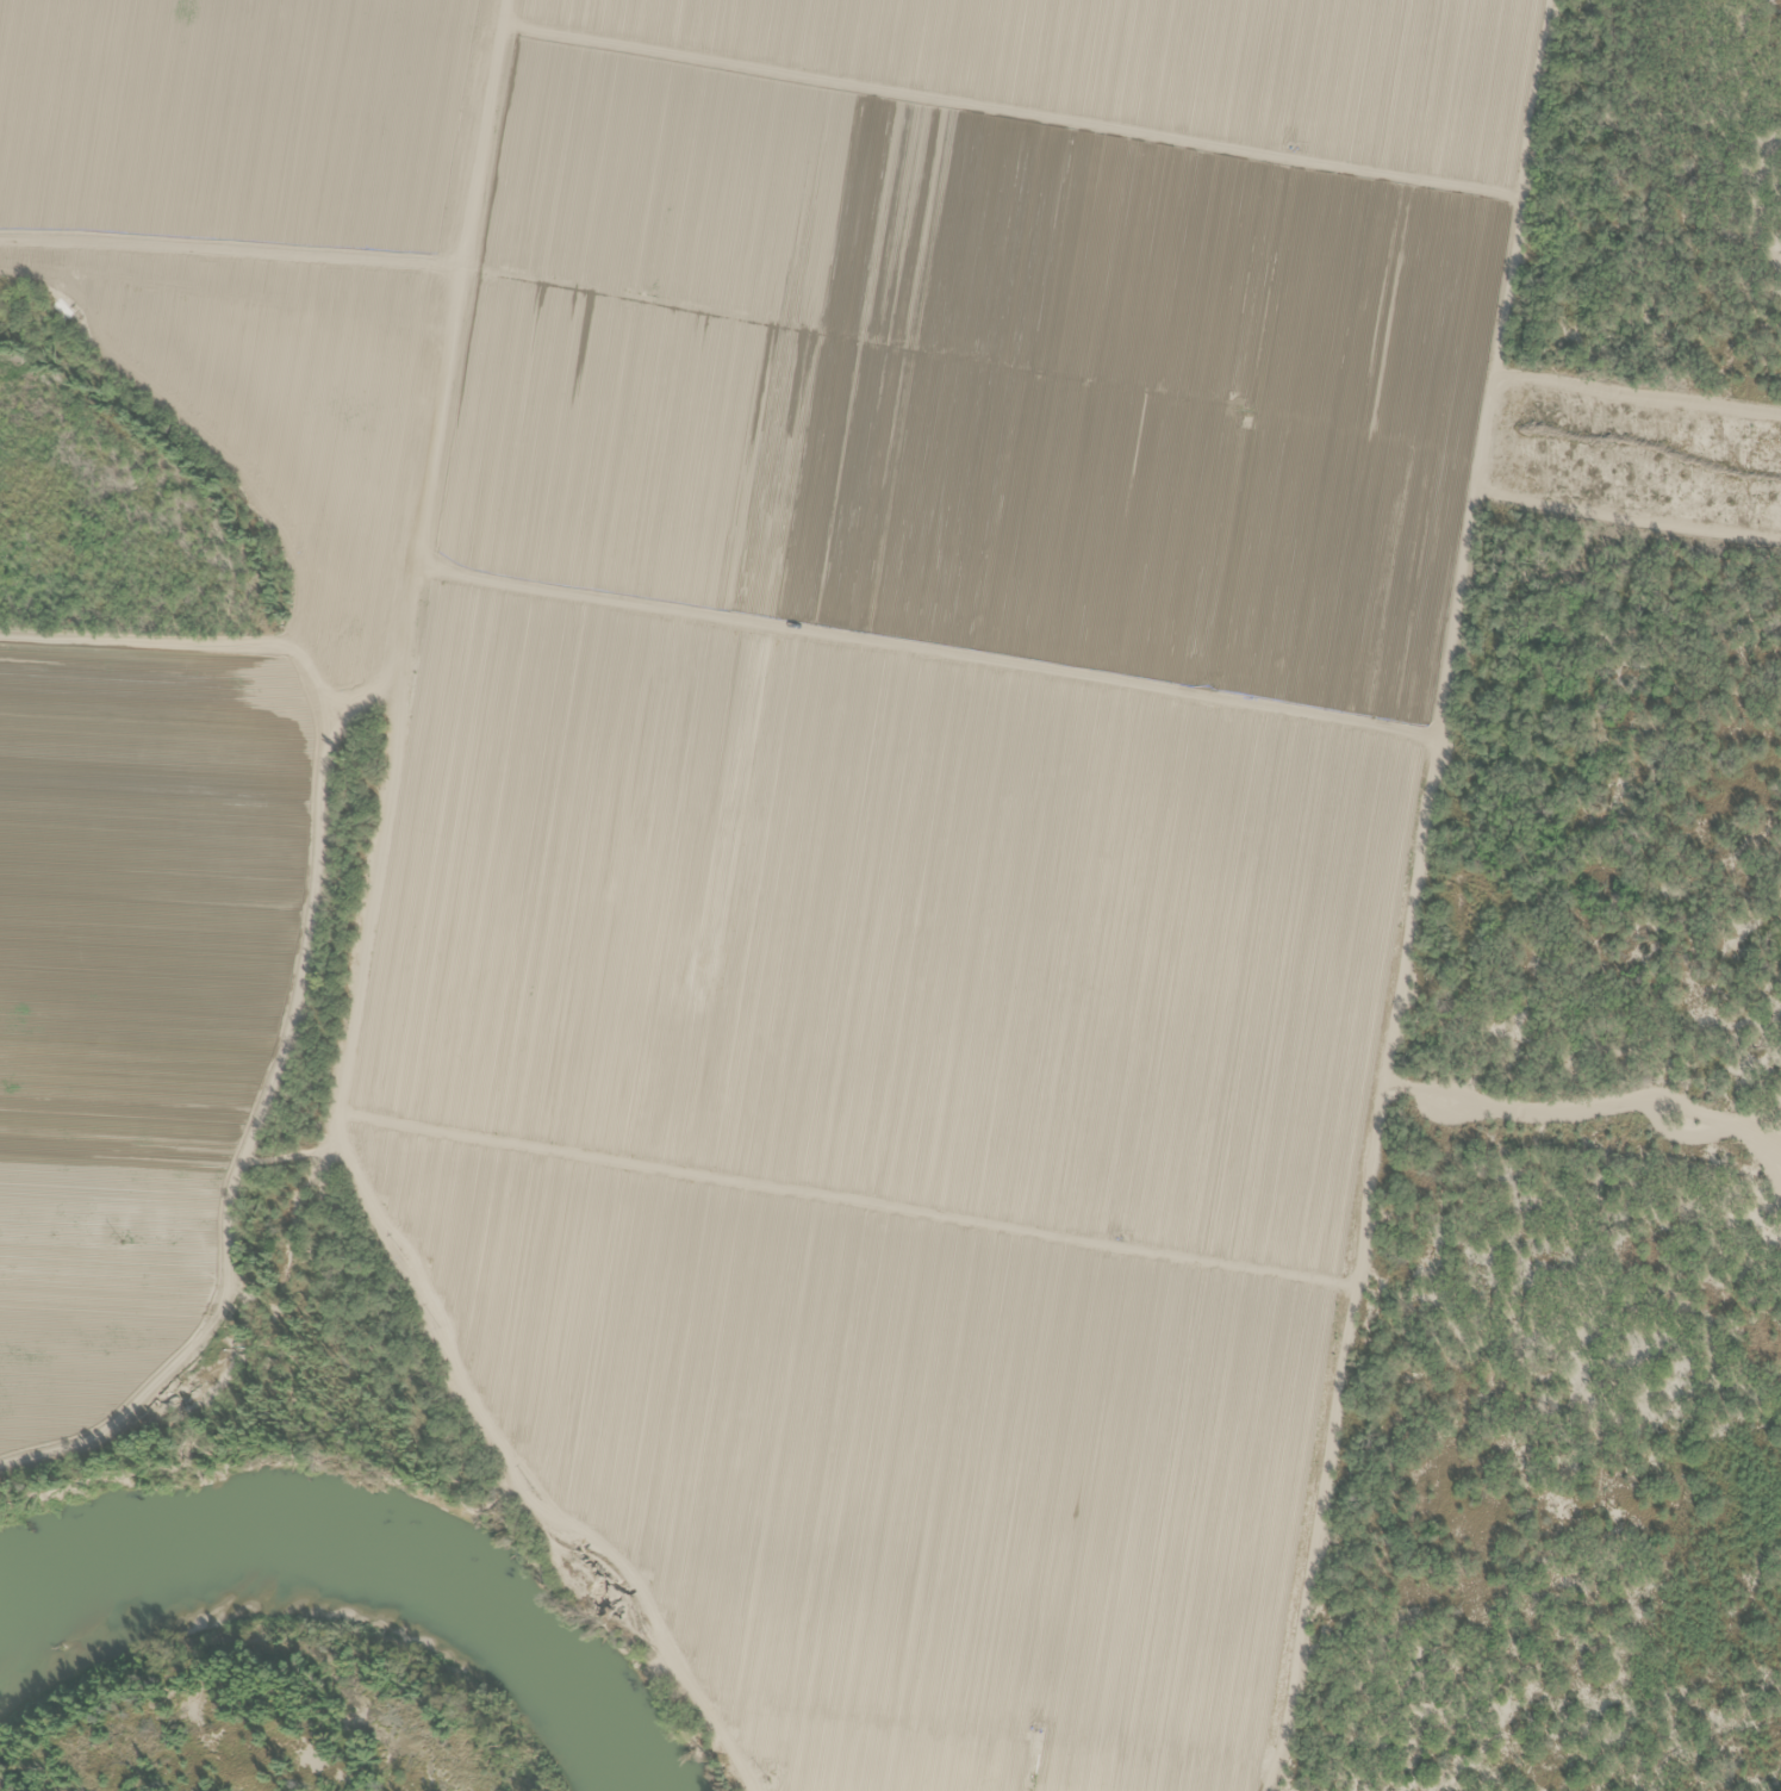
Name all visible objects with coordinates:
road: (506, 259)
river: (340, 1573)

